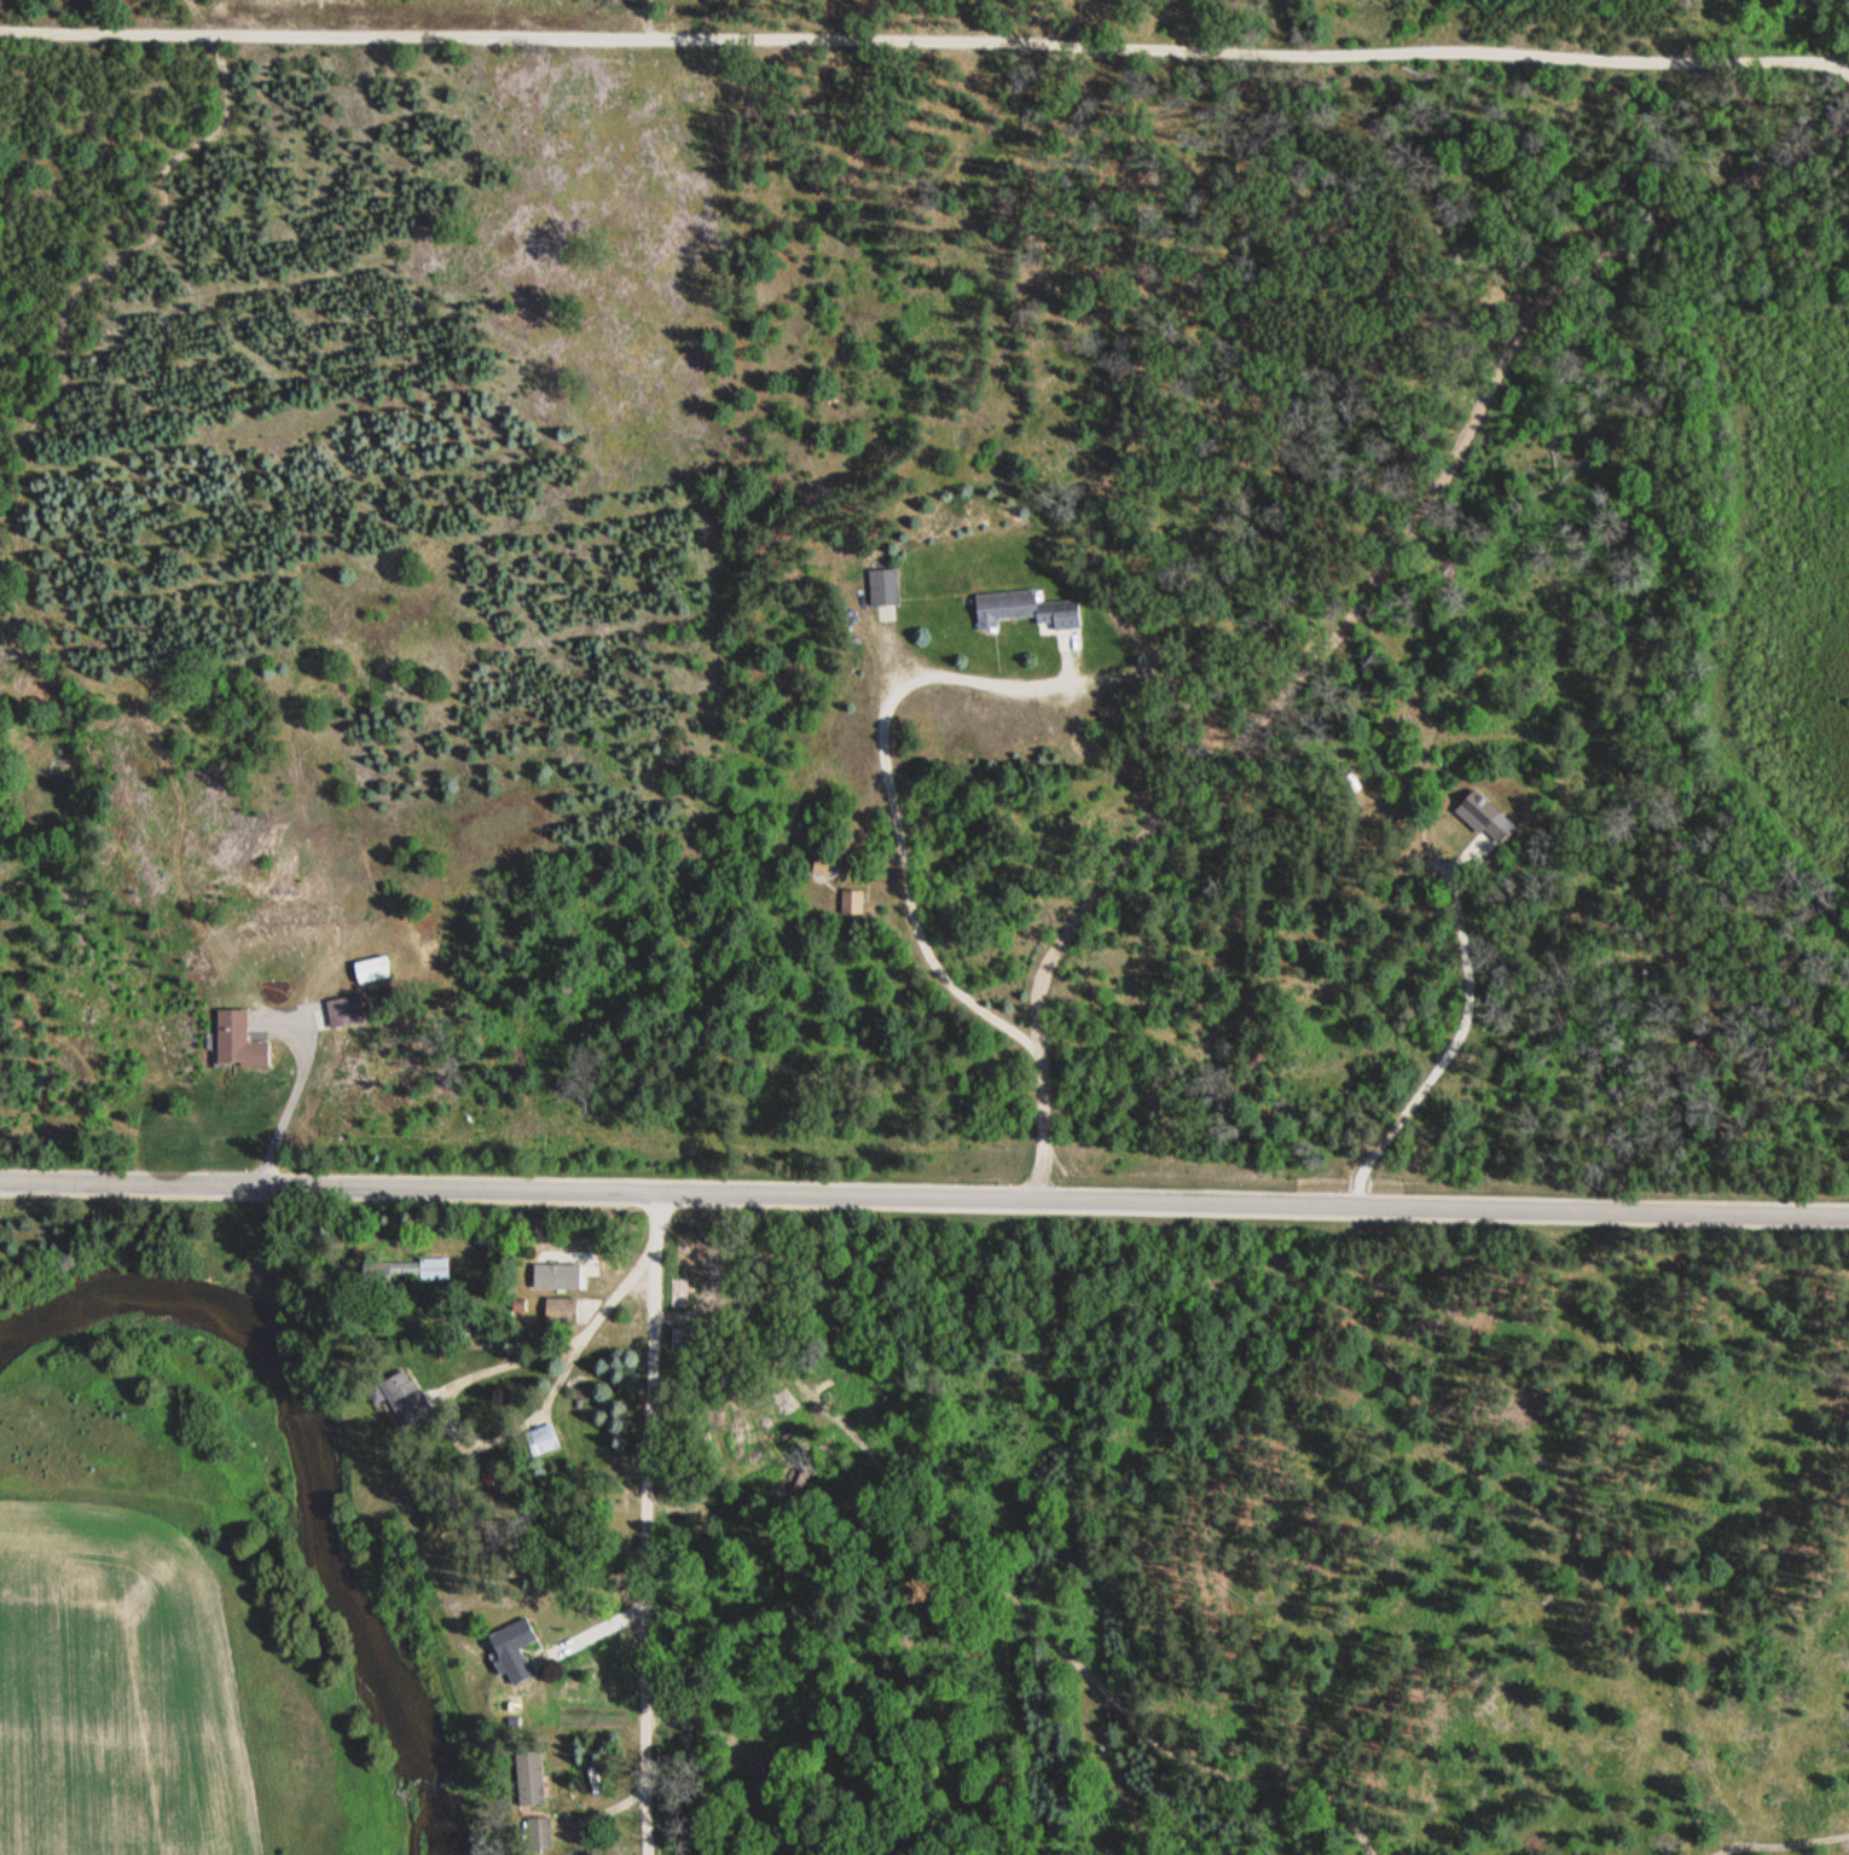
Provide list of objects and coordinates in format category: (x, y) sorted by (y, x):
road: (924, 41)
building: (883, 586)
building: (1025, 608)
road: (1367, 608)
road: (886, 611)
road: (1067, 640)
road: (894, 650)
road: (1073, 669)
road: (885, 758)
building: (1483, 825)
road: (1443, 863)
building: (821, 864)
road: (1456, 864)
road: (882, 882)
building: (852, 902)
building: (371, 969)
building: (346, 1013)
building: (238, 1039)
road: (1453, 1050)
road: (924, 1195)
building: (401, 1271)
building: (557, 1283)
building: (561, 1311)
road: (562, 1346)
building: (405, 1397)
building: (540, 1440)
river: (312, 1463)
road: (648, 1524)
road: (595, 1631)
building: (512, 1651)
building: (531, 1776)
road: (613, 1808)
building: (537, 1834)

